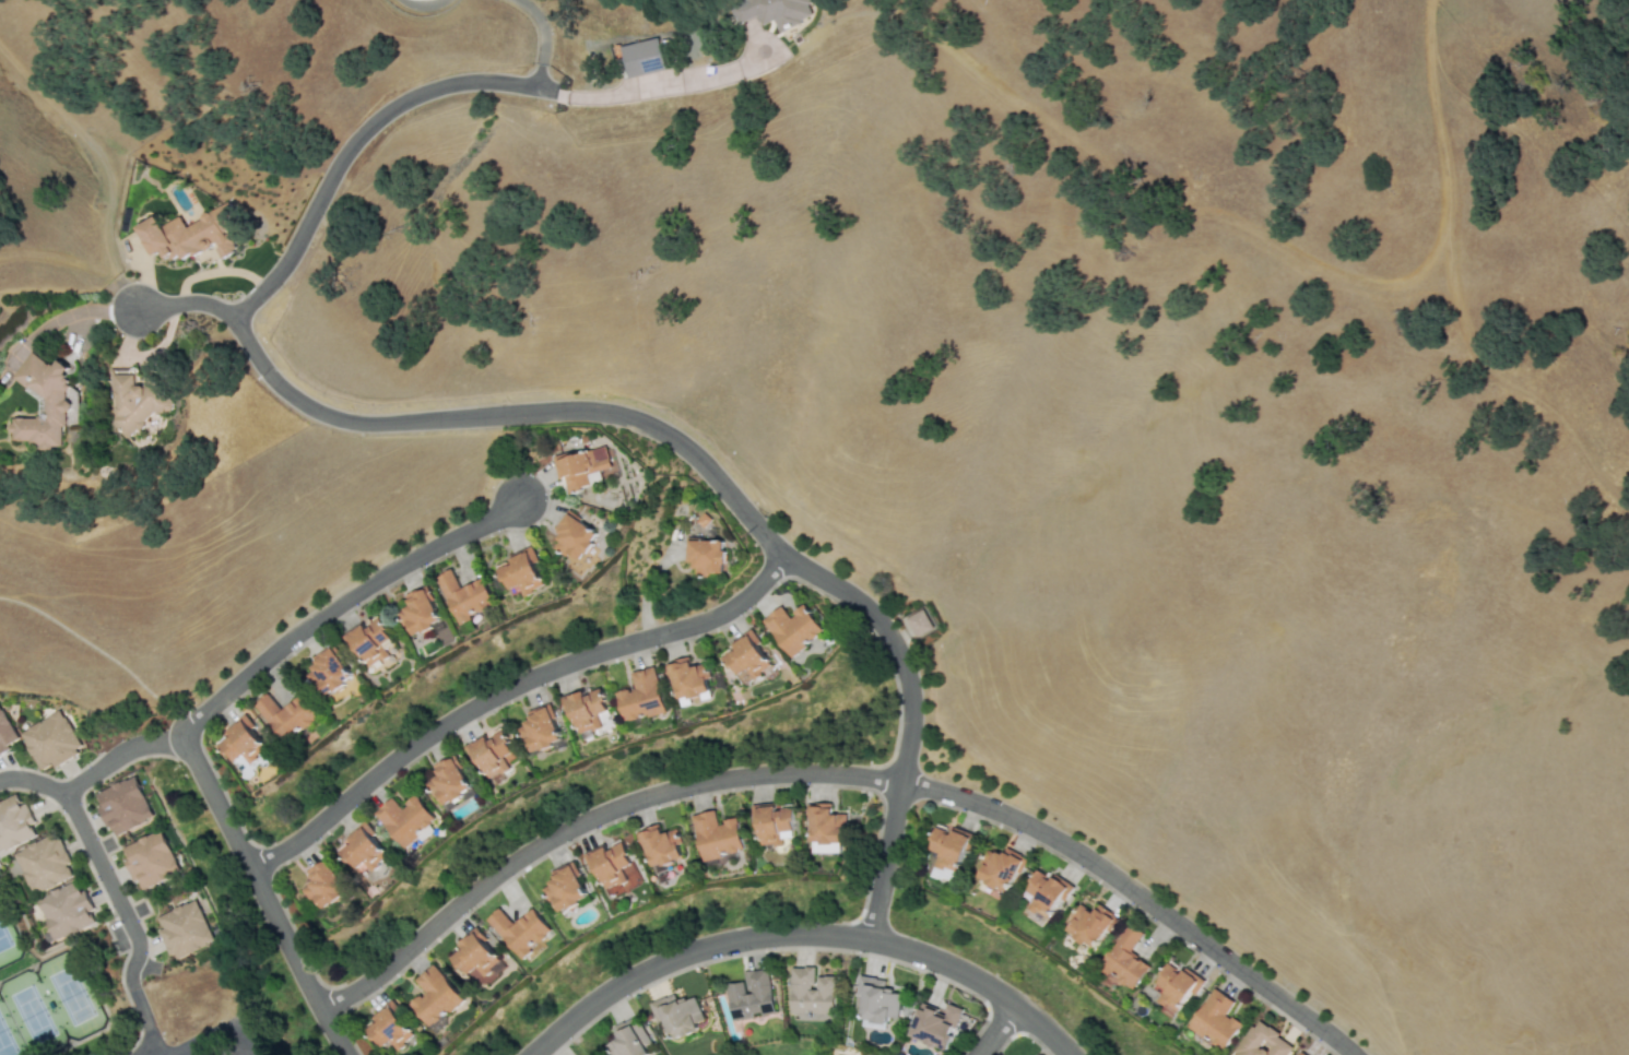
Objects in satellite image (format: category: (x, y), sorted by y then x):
road: (421, 4)
building: (770, 11)
road: (543, 38)
building: (642, 57)
road: (729, 74)
road: (349, 146)
building: (189, 234)
road: (1277, 250)
road: (185, 303)
building: (134, 401)
building: (55, 402)
road: (514, 413)
building: (582, 467)
building: (575, 536)
building: (707, 556)
building: (522, 572)
building: (467, 595)
road: (340, 601)
building: (422, 611)
building: (917, 623)
building: (793, 628)
building: (370, 641)
building: (745, 660)
building: (329, 672)
building: (688, 679)
road: (505, 689)
building: (641, 696)
building: (586, 710)
building: (287, 715)
road: (909, 720)
building: (539, 731)
building: (5, 734)
building: (50, 740)
building: (245, 742)
road: (146, 743)
building: (493, 754)
road: (842, 773)
road: (86, 775)
building: (450, 781)
building: (123, 805)
building: (405, 818)
building: (14, 822)
building: (774, 825)
building: (825, 828)
building: (716, 834)
building: (660, 844)
building: (363, 849)
building: (949, 852)
road: (97, 858)
building: (151, 860)
building: (45, 863)
building: (610, 863)
building: (1000, 869)
building: (324, 886)
building: (564, 888)
road: (261, 896)
building: (1042, 897)
building: (68, 910)
building: (1090, 924)
building: (185, 929)
building: (520, 930)
road: (800, 933)
park: (8, 939)
building: (476, 957)
building: (1125, 959)
park: (57, 983)
building: (1174, 986)
building: (811, 992)
building: (751, 994)
building: (435, 996)
building: (875, 999)
park: (46, 1007)
building: (676, 1013)
road: (145, 1020)
building: (1215, 1020)
building: (935, 1024)
building: (389, 1028)
road: (998, 1029)
road: (240, 1040)
building: (629, 1040)
building: (1262, 1042)
road: (193, 1043)
road: (199, 1048)
park: (788, 1052)

